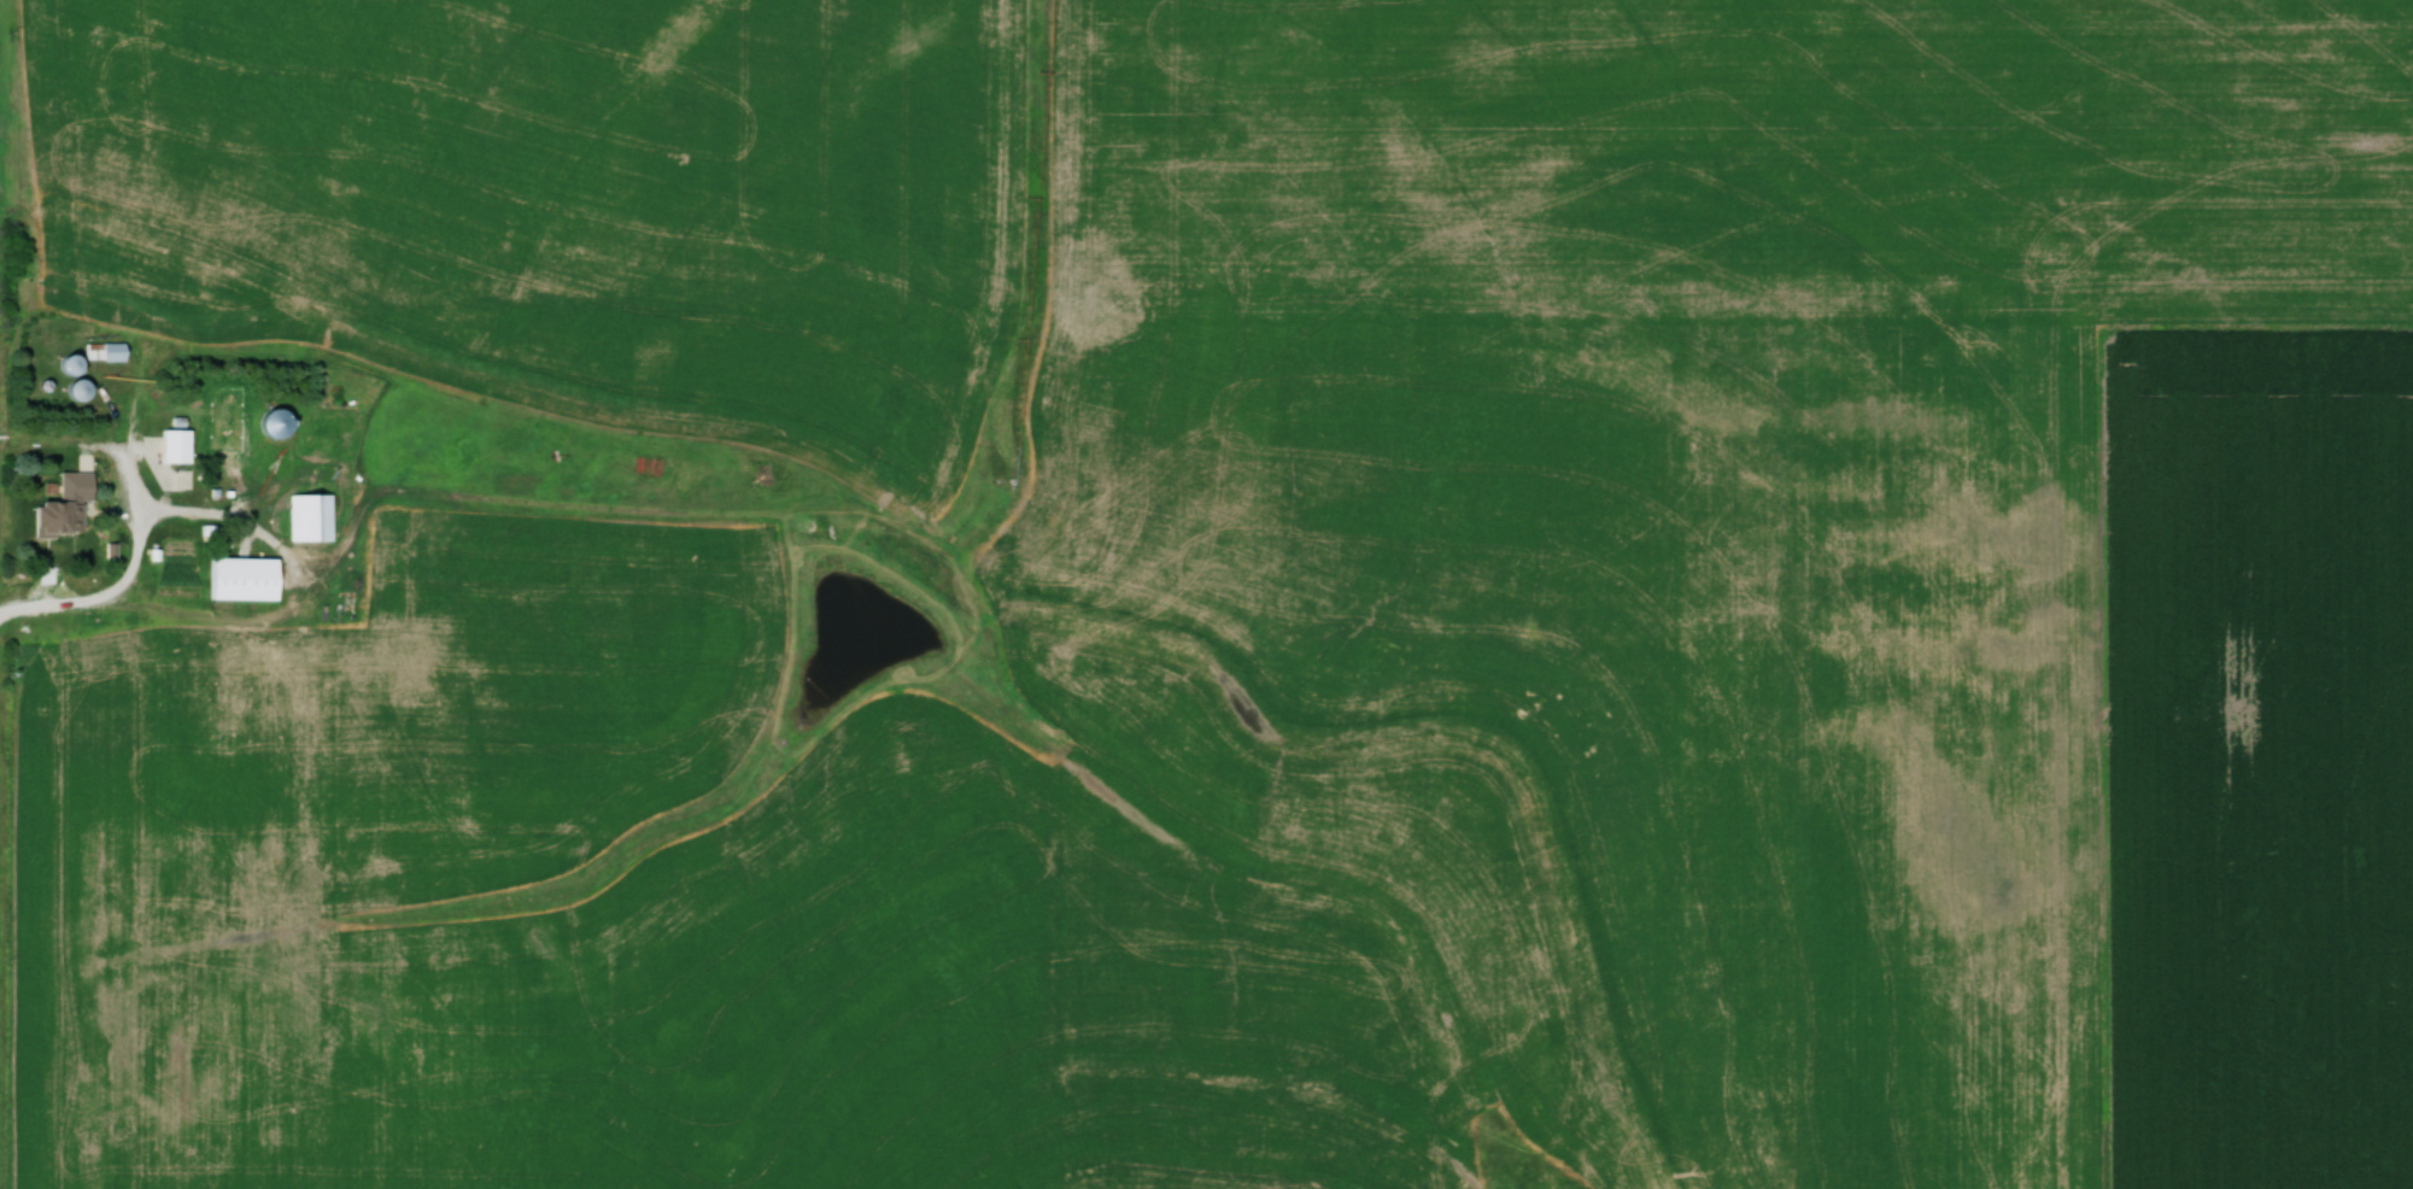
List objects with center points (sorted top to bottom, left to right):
building: (99, 355)
building: (88, 389)
building: (283, 423)
building: (182, 445)
road: (89, 447)
building: (72, 503)
building: (315, 517)
building: (247, 579)
crop: (2261, 762)

